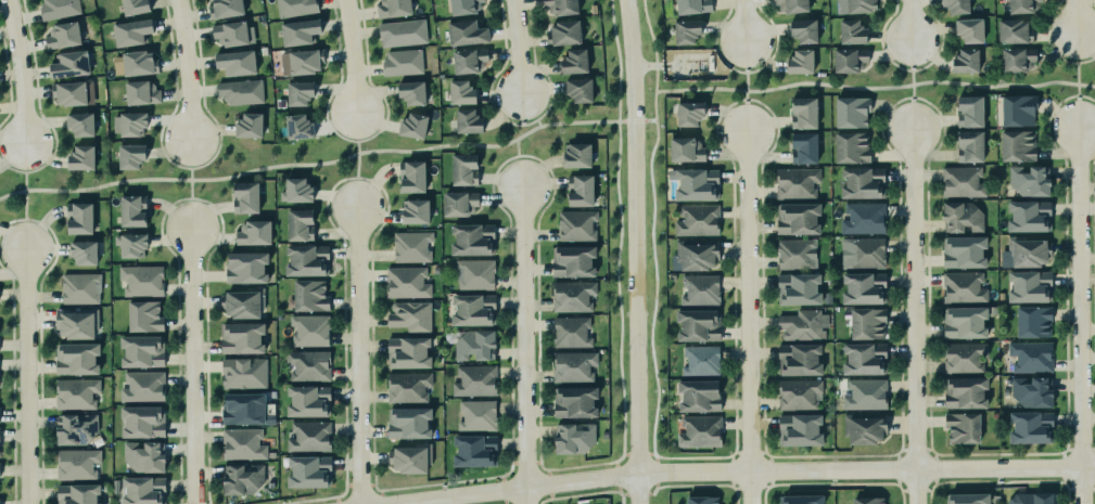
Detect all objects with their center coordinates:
building: (791, 5)
building: (863, 5)
building: (1020, 5)
building: (135, 7)
building: (466, 7)
building: (561, 7)
building: (692, 7)
building: (955, 7)
building: (226, 8)
building: (294, 8)
building: (56, 9)
building: (393, 9)
road: (1077, 16)
road: (743, 21)
road: (909, 21)
building: (687, 30)
building: (802, 30)
building: (968, 30)
building: (300, 31)
building: (852, 31)
building: (1014, 31)
building: (132, 33)
building: (400, 33)
building: (233, 34)
building: (466, 34)
building: (563, 35)
building: (61, 36)
road: (517, 48)
road: (351, 55)
building: (469, 60)
building: (850, 60)
building: (1017, 60)
building: (238, 62)
building: (300, 62)
building: (400, 62)
building: (799, 62)
building: (965, 62)
building: (137, 63)
building: (573, 63)
building: (67, 65)
building: (118, 65)
road: (666, 67)
road: (184, 69)
road: (18, 73)
road: (1077, 80)
park: (881, 83)
road: (911, 86)
road: (746, 87)
road: (875, 88)
building: (577, 90)
building: (239, 91)
building: (141, 92)
building: (461, 92)
building: (69, 93)
building: (297, 93)
building: (411, 93)
road: (512, 107)
building: (1016, 107)
building: (967, 108)
road: (547, 109)
building: (687, 109)
building: (801, 111)
building: (852, 112)
road: (345, 120)
building: (467, 122)
road: (539, 122)
building: (128, 124)
building: (79, 125)
road: (520, 125)
building: (250, 126)
building: (297, 127)
building: (411, 127)
road: (344, 138)
road: (370, 138)
building: (968, 144)
building: (1018, 145)
building: (802, 146)
road: (178, 147)
road: (518, 147)
building: (683, 147)
building: (852, 147)
building: (577, 155)
road: (14, 156)
road: (531, 156)
building: (129, 157)
building: (79, 158)
road: (213, 158)
road: (358, 158)
park: (306, 160)
road: (328, 161)
road: (505, 161)
road: (176, 166)
road: (36, 169)
building: (464, 169)
road: (15, 170)
building: (409, 173)
road: (364, 179)
road: (342, 180)
building: (1030, 180)
building: (963, 181)
building: (797, 182)
building: (863, 182)
road: (191, 183)
building: (696, 183)
building: (577, 188)
building: (294, 189)
road: (26, 195)
building: (243, 195)
road: (343, 197)
road: (180, 199)
road: (200, 199)
building: (457, 201)
building: (131, 208)
building: (412, 209)
building: (1028, 215)
building: (77, 216)
road: (181, 217)
building: (696, 217)
building: (795, 217)
building: (964, 217)
building: (864, 218)
road: (33, 220)
road: (15, 221)
building: (298, 223)
building: (577, 225)
building: (254, 232)
road: (650, 232)
road: (15, 235)
road: (620, 235)
building: (470, 237)
building: (130, 243)
building: (409, 245)
building: (81, 249)
building: (1022, 250)
road: (636, 251)
building: (964, 251)
building: (794, 253)
building: (863, 253)
building: (693, 254)
building: (305, 258)
building: (571, 259)
building: (244, 266)
building: (472, 272)
building: (140, 277)
building: (406, 282)
building: (1027, 284)
building: (77, 286)
building: (862, 286)
building: (960, 286)
building: (797, 287)
building: (700, 289)
building: (571, 293)
building: (307, 294)
building: (241, 300)
building: (474, 309)
building: (408, 314)
road: (1082, 315)
building: (144, 316)
road: (914, 316)
road: (747, 318)
building: (1031, 319)
building: (962, 320)
building: (801, 323)
building: (868, 323)
building: (76, 324)
building: (699, 325)
building: (307, 328)
building: (569, 329)
building: (242, 338)
building: (473, 344)
road: (522, 345)
building: (406, 350)
building: (142, 351)
road: (355, 353)
building: (1028, 354)
building: (962, 356)
building: (75, 357)
building: (797, 357)
building: (863, 357)
building: (699, 359)
building: (306, 364)
building: (572, 364)
road: (191, 366)
building: (244, 373)
road: (25, 375)
building: (474, 380)
building: (142, 384)
building: (407, 385)
building: (963, 390)
building: (1033, 391)
building: (73, 392)
building: (797, 392)
building: (864, 392)
building: (699, 396)
building: (309, 401)
building: (575, 402)
building: (243, 409)
building: (476, 413)
building: (140, 421)
building: (409, 422)
building: (1029, 425)
building: (863, 426)
building: (73, 427)
building: (963, 427)
building: (798, 428)
building: (700, 431)
building: (310, 437)
building: (574, 438)
building: (243, 443)
building: (475, 450)
building: (144, 455)
building: (408, 455)
building: (75, 462)
road: (737, 470)
building: (309, 471)
building: (244, 478)
building: (144, 490)
building: (76, 492)
building: (1032, 496)
building: (965, 497)
building: (702, 500)
building: (800, 500)
building: (866, 500)
building: (0, 501)

